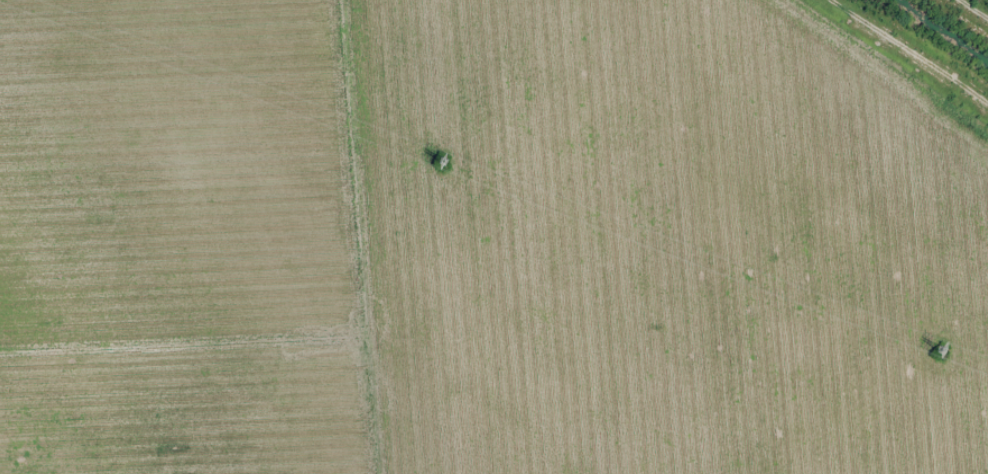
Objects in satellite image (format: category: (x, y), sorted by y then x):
power tower: (443, 162)
power tower: (941, 350)

